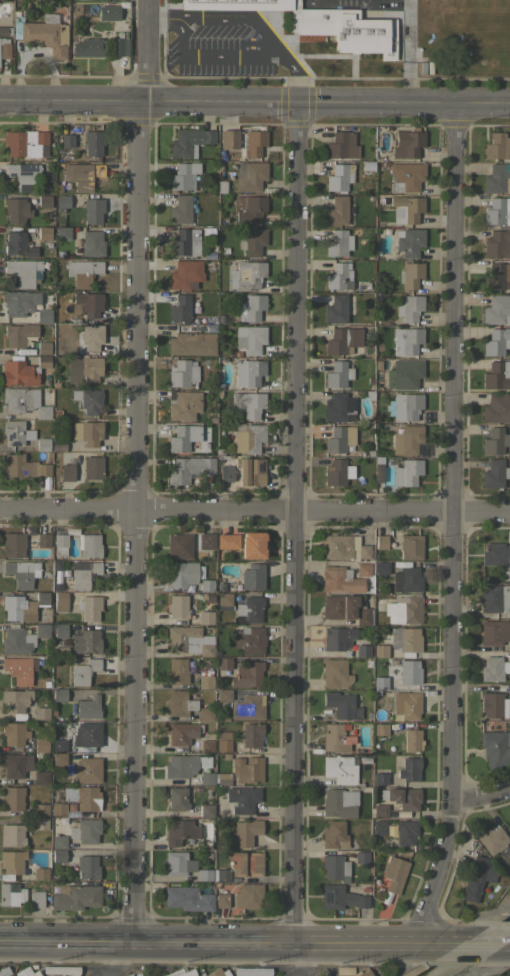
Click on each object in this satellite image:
building: (108, 12)
road: (166, 15)
road: (239, 15)
building: (321, 23)
building: (5, 30)
building: (42, 33)
parking lot: (221, 44)
building: (120, 46)
building: (88, 47)
building: (4, 48)
road: (152, 53)
road: (210, 55)
road: (296, 77)
road: (255, 106)
building: (229, 139)
building: (67, 140)
building: (93, 142)
building: (189, 142)
building: (26, 143)
building: (253, 143)
building: (407, 144)
building: (342, 145)
building: (497, 146)
building: (22, 175)
building: (82, 175)
building: (249, 175)
building: (184, 176)
building: (406, 176)
building: (339, 177)
building: (497, 178)
building: (44, 200)
building: (63, 200)
building: (248, 208)
building: (406, 208)
building: (16, 209)
building: (93, 209)
building: (180, 209)
building: (336, 210)
building: (497, 211)
building: (44, 232)
building: (62, 233)
building: (252, 241)
building: (409, 241)
building: (184, 242)
building: (92, 243)
building: (338, 243)
building: (496, 244)
building: (18, 245)
building: (23, 271)
building: (82, 271)
building: (249, 274)
building: (185, 275)
building: (410, 275)
building: (338, 276)
building: (495, 277)
building: (19, 302)
building: (89, 303)
building: (251, 307)
building: (409, 307)
building: (179, 308)
building: (336, 309)
building: (497, 310)
building: (43, 315)
building: (18, 333)
building: (91, 336)
building: (249, 338)
building: (342, 340)
building: (406, 340)
building: (496, 341)
building: (192, 343)
building: (43, 347)
building: (43, 361)
building: (83, 370)
building: (19, 372)
building: (248, 372)
building: (182, 373)
building: (404, 373)
building: (337, 374)
building: (497, 374)
building: (88, 399)
building: (23, 401)
building: (248, 403)
building: (183, 405)
building: (404, 406)
building: (338, 407)
building: (496, 408)
building: (16, 432)
building: (88, 432)
building: (183, 437)
building: (248, 438)
building: (339, 438)
building: (407, 439)
building: (495, 441)
building: (43, 444)
building: (23, 466)
building: (92, 467)
building: (189, 469)
building: (378, 469)
building: (250, 470)
building: (67, 472)
building: (337, 472)
building: (407, 472)
building: (226, 473)
building: (494, 473)
road: (254, 512)
road: (136, 524)
road: (295, 526)
road: (453, 526)
building: (43, 539)
building: (206, 541)
building: (227, 541)
building: (381, 542)
building: (59, 543)
building: (89, 544)
building: (253, 544)
building: (12, 545)
building: (337, 546)
building: (177, 547)
building: (365, 547)
building: (410, 547)
building: (495, 554)
building: (381, 567)
building: (363, 569)
building: (17, 573)
building: (181, 573)
building: (83, 574)
building: (252, 576)
building: (505, 577)
building: (339, 579)
building: (405, 579)
building: (206, 585)
building: (42, 598)
building: (494, 598)
building: (60, 601)
building: (224, 601)
building: (177, 606)
building: (338, 606)
building: (89, 607)
building: (18, 608)
building: (250, 608)
building: (403, 609)
building: (363, 616)
building: (205, 617)
building: (494, 632)
building: (27, 637)
building: (337, 637)
building: (248, 639)
building: (189, 640)
building: (404, 640)
building: (85, 641)
building: (362, 649)
building: (380, 650)
building: (59, 651)
building: (222, 662)
building: (493, 668)
building: (18, 669)
building: (82, 669)
building: (176, 671)
building: (407, 672)
building: (334, 673)
building: (246, 674)
building: (205, 681)
building: (380, 682)
building: (59, 694)
building: (223, 697)
building: (15, 701)
building: (179, 703)
building: (339, 704)
building: (406, 704)
building: (493, 705)
building: (88, 707)
building: (247, 707)
building: (41, 713)
building: (205, 713)
building: (380, 728)
building: (181, 732)
building: (13, 733)
building: (87, 734)
building: (251, 734)
building: (333, 737)
building: (412, 740)
building: (223, 741)
building: (40, 743)
building: (59, 745)
building: (206, 746)
building: (495, 748)
building: (58, 758)
building: (202, 761)
building: (14, 764)
building: (180, 765)
building: (247, 768)
building: (87, 769)
building: (339, 769)
building: (409, 769)
building: (40, 777)
building: (206, 778)
building: (221, 778)
building: (380, 778)
road: (481, 793)
building: (12, 797)
building: (83, 797)
building: (402, 797)
building: (177, 798)
building: (240, 799)
building: (339, 802)
building: (57, 808)
building: (40, 809)
building: (206, 810)
building: (378, 810)
building: (40, 822)
building: (379, 827)
building: (85, 830)
building: (180, 831)
building: (405, 831)
building: (242, 833)
building: (333, 834)
building: (11, 835)
building: (492, 839)
building: (58, 841)
building: (58, 855)
building: (361, 857)
building: (11, 861)
building: (177, 863)
building: (245, 863)
building: (87, 866)
building: (333, 866)
building: (39, 873)
building: (394, 873)
building: (204, 874)
building: (221, 874)
building: (474, 878)
building: (11, 894)
building: (36, 894)
building: (247, 895)
building: (75, 896)
building: (340, 897)
building: (188, 898)
building: (221, 900)
road: (485, 941)
road: (230, 944)
road: (415, 958)
road: (122, 961)
road: (290, 961)
road: (484, 961)
building: (343, 969)
building: (62, 970)
building: (4, 971)
building: (252, 971)
building: (27, 972)
building: (180, 972)
building: (218, 972)
building: (361, 973)
building: (134, 974)
building: (324, 974)

